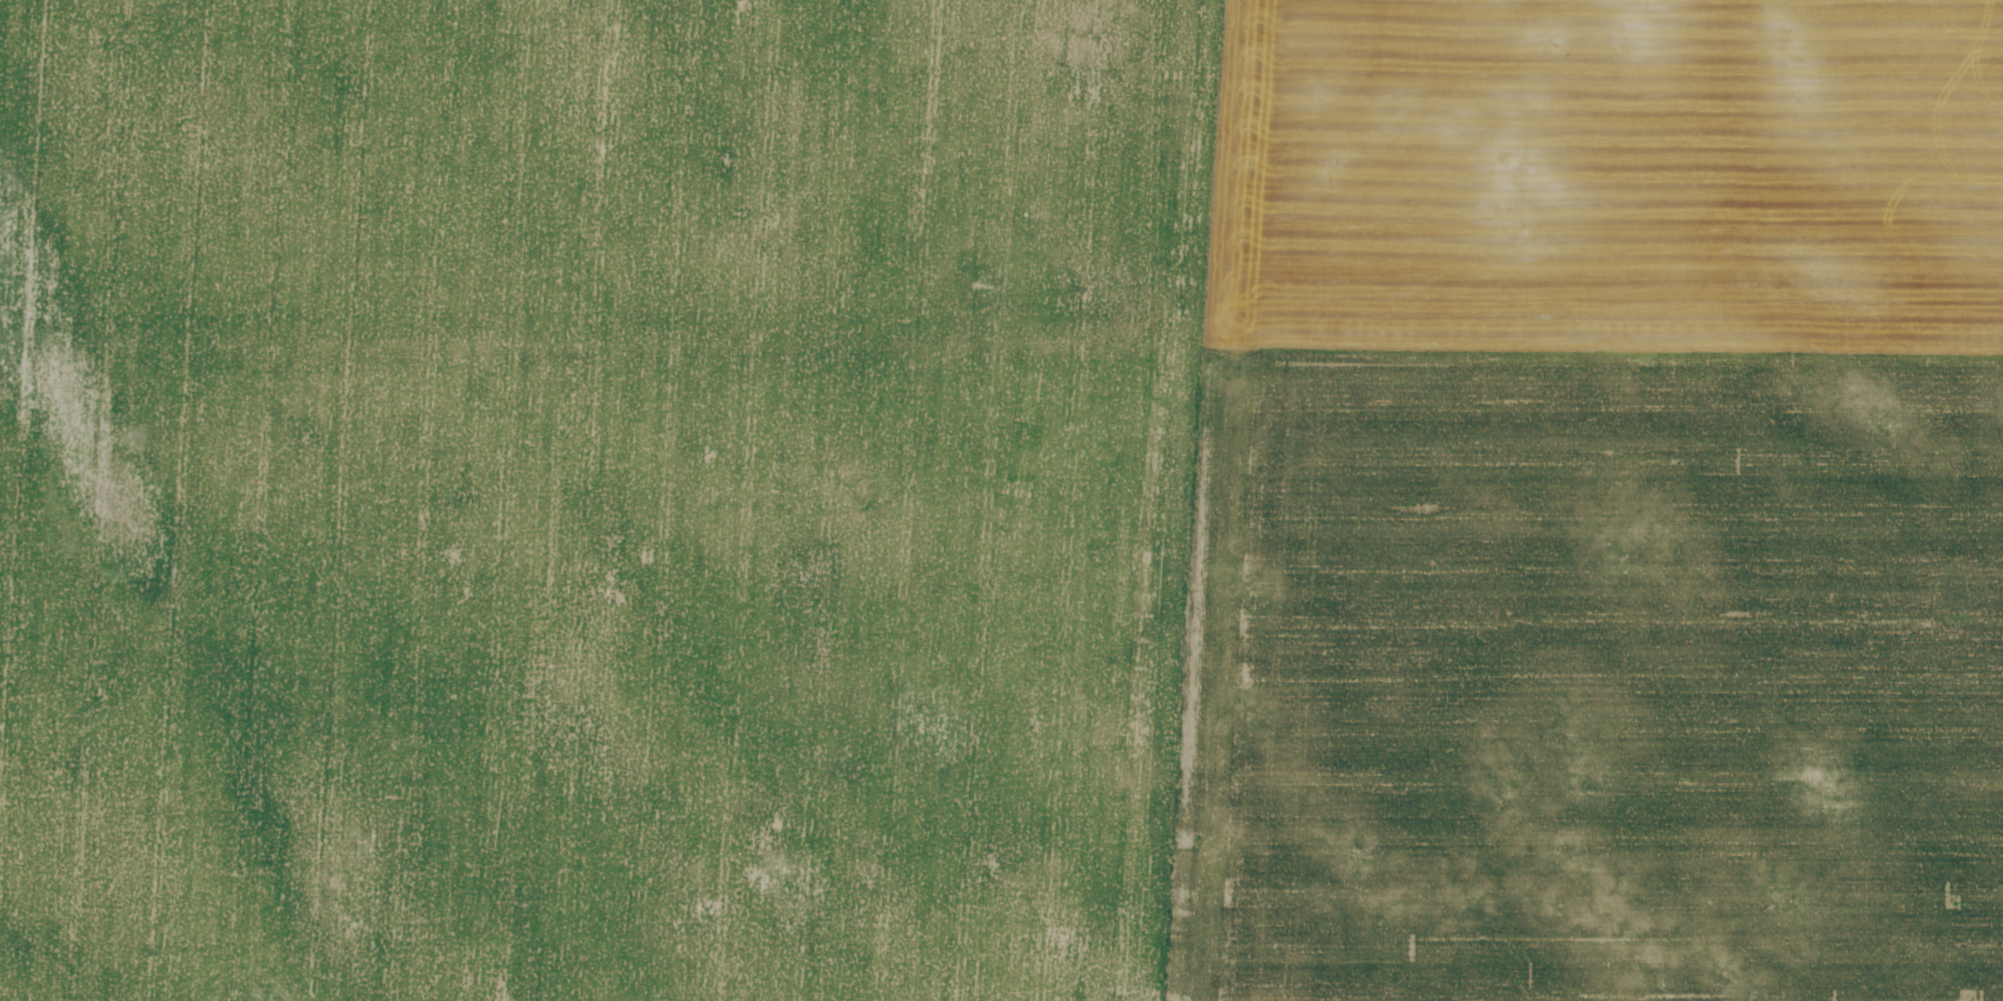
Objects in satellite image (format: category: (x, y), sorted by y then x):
crop: (1001, 500)

